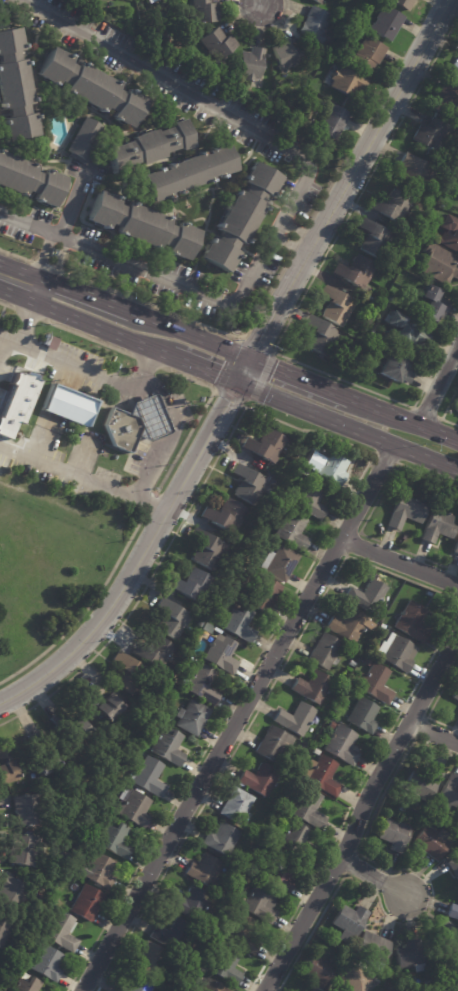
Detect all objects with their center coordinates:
building: (119, 0)
building: (152, 1)
building: (320, 1)
road: (263, 4)
building: (402, 4)
building: (203, 14)
building: (387, 24)
building: (316, 25)
building: (218, 46)
road: (27, 54)
building: (368, 55)
building: (285, 58)
building: (329, 62)
building: (251, 65)
parking lot: (171, 69)
building: (454, 71)
parking lot: (139, 81)
building: (347, 84)
building: (91, 86)
building: (14, 90)
road: (38, 93)
building: (447, 100)
road: (167, 115)
building: (332, 124)
building: (433, 135)
road: (0, 141)
building: (83, 142)
building: (145, 147)
building: (45, 151)
road: (34, 156)
building: (415, 170)
building: (185, 173)
building: (28, 180)
road: (216, 184)
parking lot: (284, 191)
road: (211, 194)
road: (180, 199)
road: (294, 201)
road: (74, 202)
road: (25, 205)
building: (394, 206)
parking lot: (38, 215)
building: (237, 218)
building: (138, 226)
building: (454, 234)
parking lot: (90, 236)
road: (202, 236)
parking lot: (286, 239)
building: (375, 239)
road: (63, 242)
road: (49, 243)
road: (247, 253)
road: (15, 256)
road: (39, 263)
road: (55, 263)
building: (439, 264)
road: (45, 267)
road: (23, 270)
parking lot: (108, 270)
building: (355, 271)
parking lot: (187, 274)
parking lot: (238, 274)
road: (41, 291)
road: (18, 295)
road: (89, 297)
building: (388, 298)
building: (433, 304)
road: (7, 305)
building: (337, 306)
road: (28, 313)
road: (28, 321)
road: (194, 321)
road: (102, 328)
building: (405, 333)
road: (9, 336)
building: (321, 336)
road: (88, 337)
road: (190, 337)
road: (3, 342)
traffic signals: (249, 360)
road: (148, 361)
road: (148, 366)
road: (202, 368)
road: (244, 368)
building: (396, 369)
road: (299, 380)
building: (25, 381)
traffic signals: (236, 382)
road: (434, 383)
building: (67, 405)
road: (197, 417)
road: (403, 421)
building: (135, 424)
road: (346, 428)
road: (168, 442)
building: (265, 443)
building: (301, 461)
building: (332, 467)
building: (249, 483)
building: (310, 499)
road: (149, 504)
building: (406, 511)
building: (228, 513)
building: (438, 525)
building: (292, 530)
building: (456, 546)
building: (208, 550)
road: (398, 556)
building: (279, 562)
building: (398, 582)
building: (193, 585)
building: (264, 593)
building: (367, 595)
road: (84, 611)
building: (172, 619)
building: (412, 620)
building: (239, 623)
building: (350, 624)
building: (216, 629)
building: (385, 629)
building: (154, 650)
building: (326, 651)
building: (397, 652)
building: (221, 653)
building: (190, 657)
building: (367, 660)
building: (352, 663)
building: (128, 672)
building: (375, 682)
building: (201, 684)
building: (311, 686)
building: (456, 694)
building: (101, 704)
building: (363, 714)
building: (192, 717)
road: (235, 717)
building: (295, 718)
building: (332, 725)
building: (70, 726)
road: (435, 730)
building: (274, 743)
building: (342, 745)
building: (168, 746)
building: (316, 752)
building: (48, 754)
building: (6, 765)
building: (321, 774)
building: (148, 776)
building: (260, 779)
building: (425, 781)
building: (449, 792)
building: (236, 805)
building: (307, 807)
building: (135, 808)
building: (402, 808)
building: (28, 809)
road: (361, 812)
building: (395, 834)
building: (115, 839)
building: (222, 839)
building: (295, 841)
building: (431, 842)
building: (23, 849)
building: (452, 866)
building: (99, 870)
building: (204, 870)
building: (279, 873)
road: (372, 879)
building: (12, 894)
building: (87, 902)
building: (189, 903)
building: (261, 903)
building: (453, 911)
building: (349, 922)
building: (5, 929)
building: (389, 930)
building: (61, 931)
building: (172, 934)
building: (241, 934)
building: (448, 938)
building: (373, 950)
building: (410, 953)
building: (150, 961)
building: (0, 962)
building: (47, 963)
building: (225, 965)
building: (320, 971)
building: (355, 977)
building: (392, 983)
building: (27, 985)
building: (209, 985)
building: (135, 986)
building: (388, 990)
building: (390, 990)

